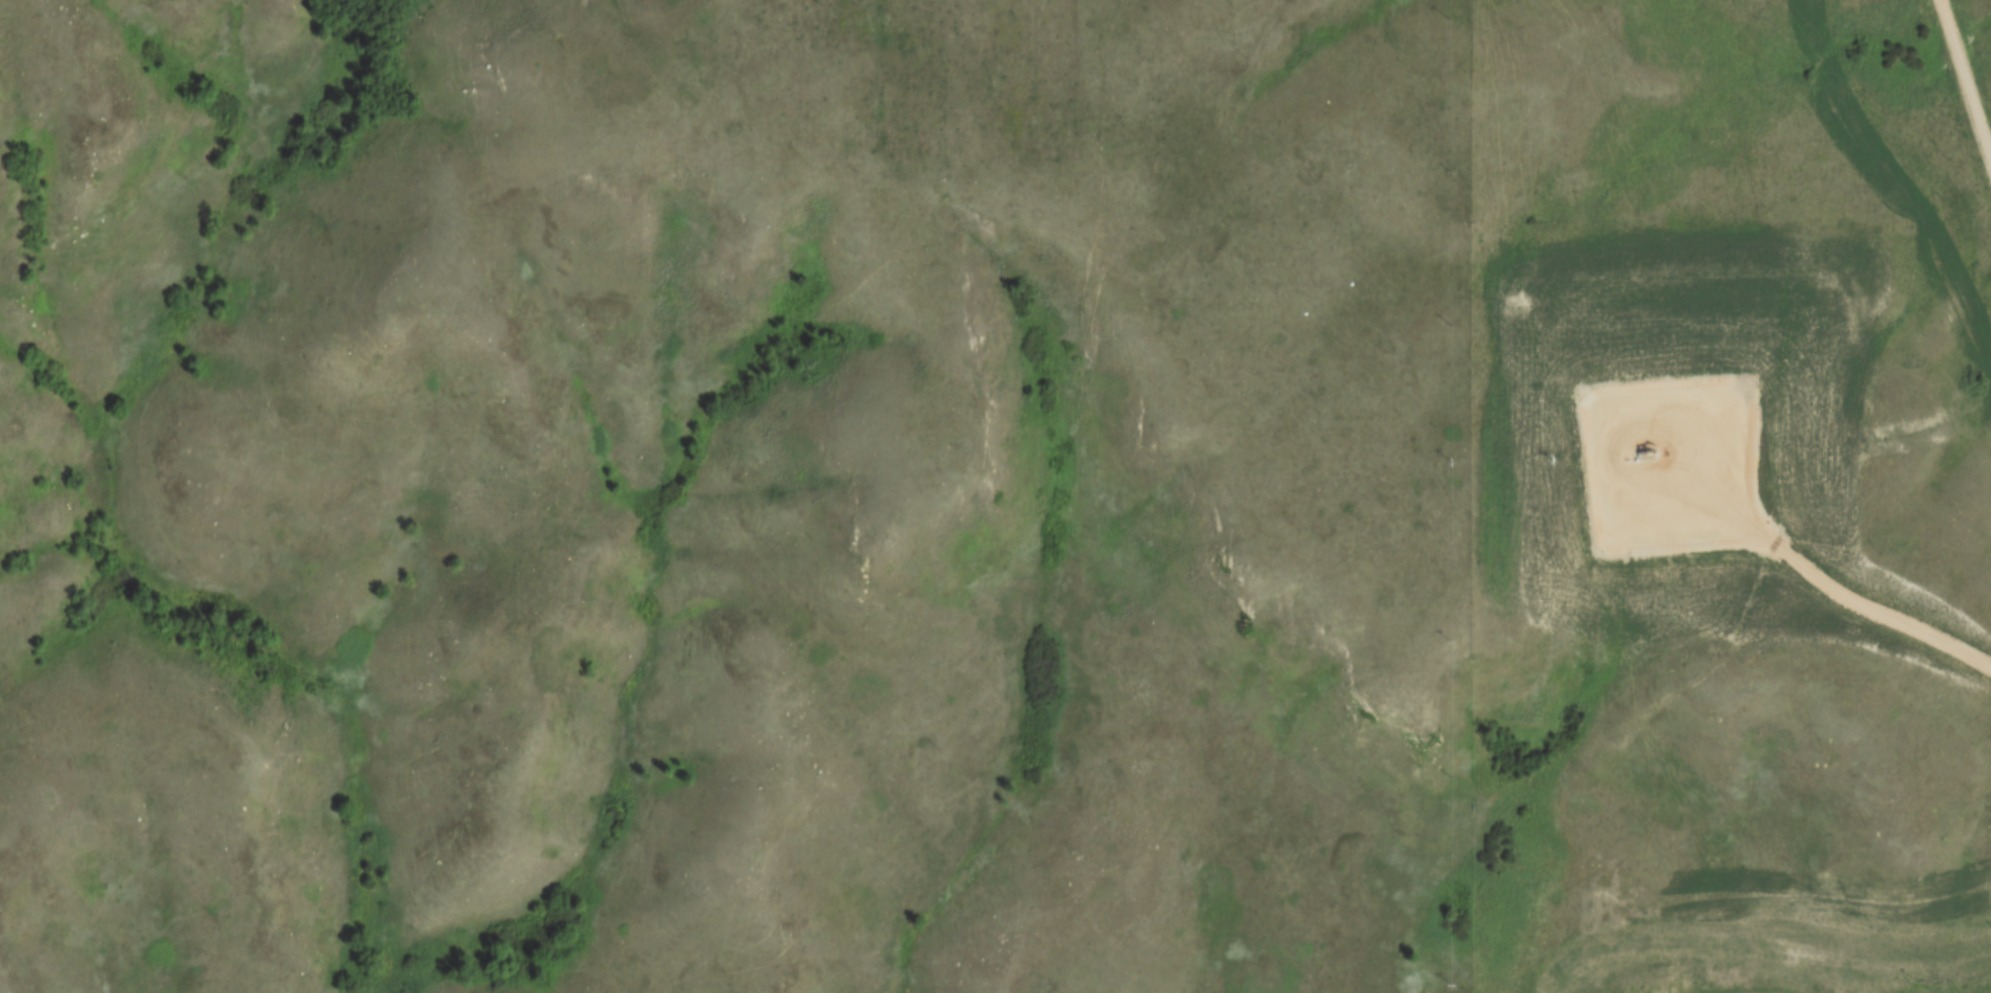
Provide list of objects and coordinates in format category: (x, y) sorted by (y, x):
road: (1968, 70)
petroleum well: (1643, 447)

